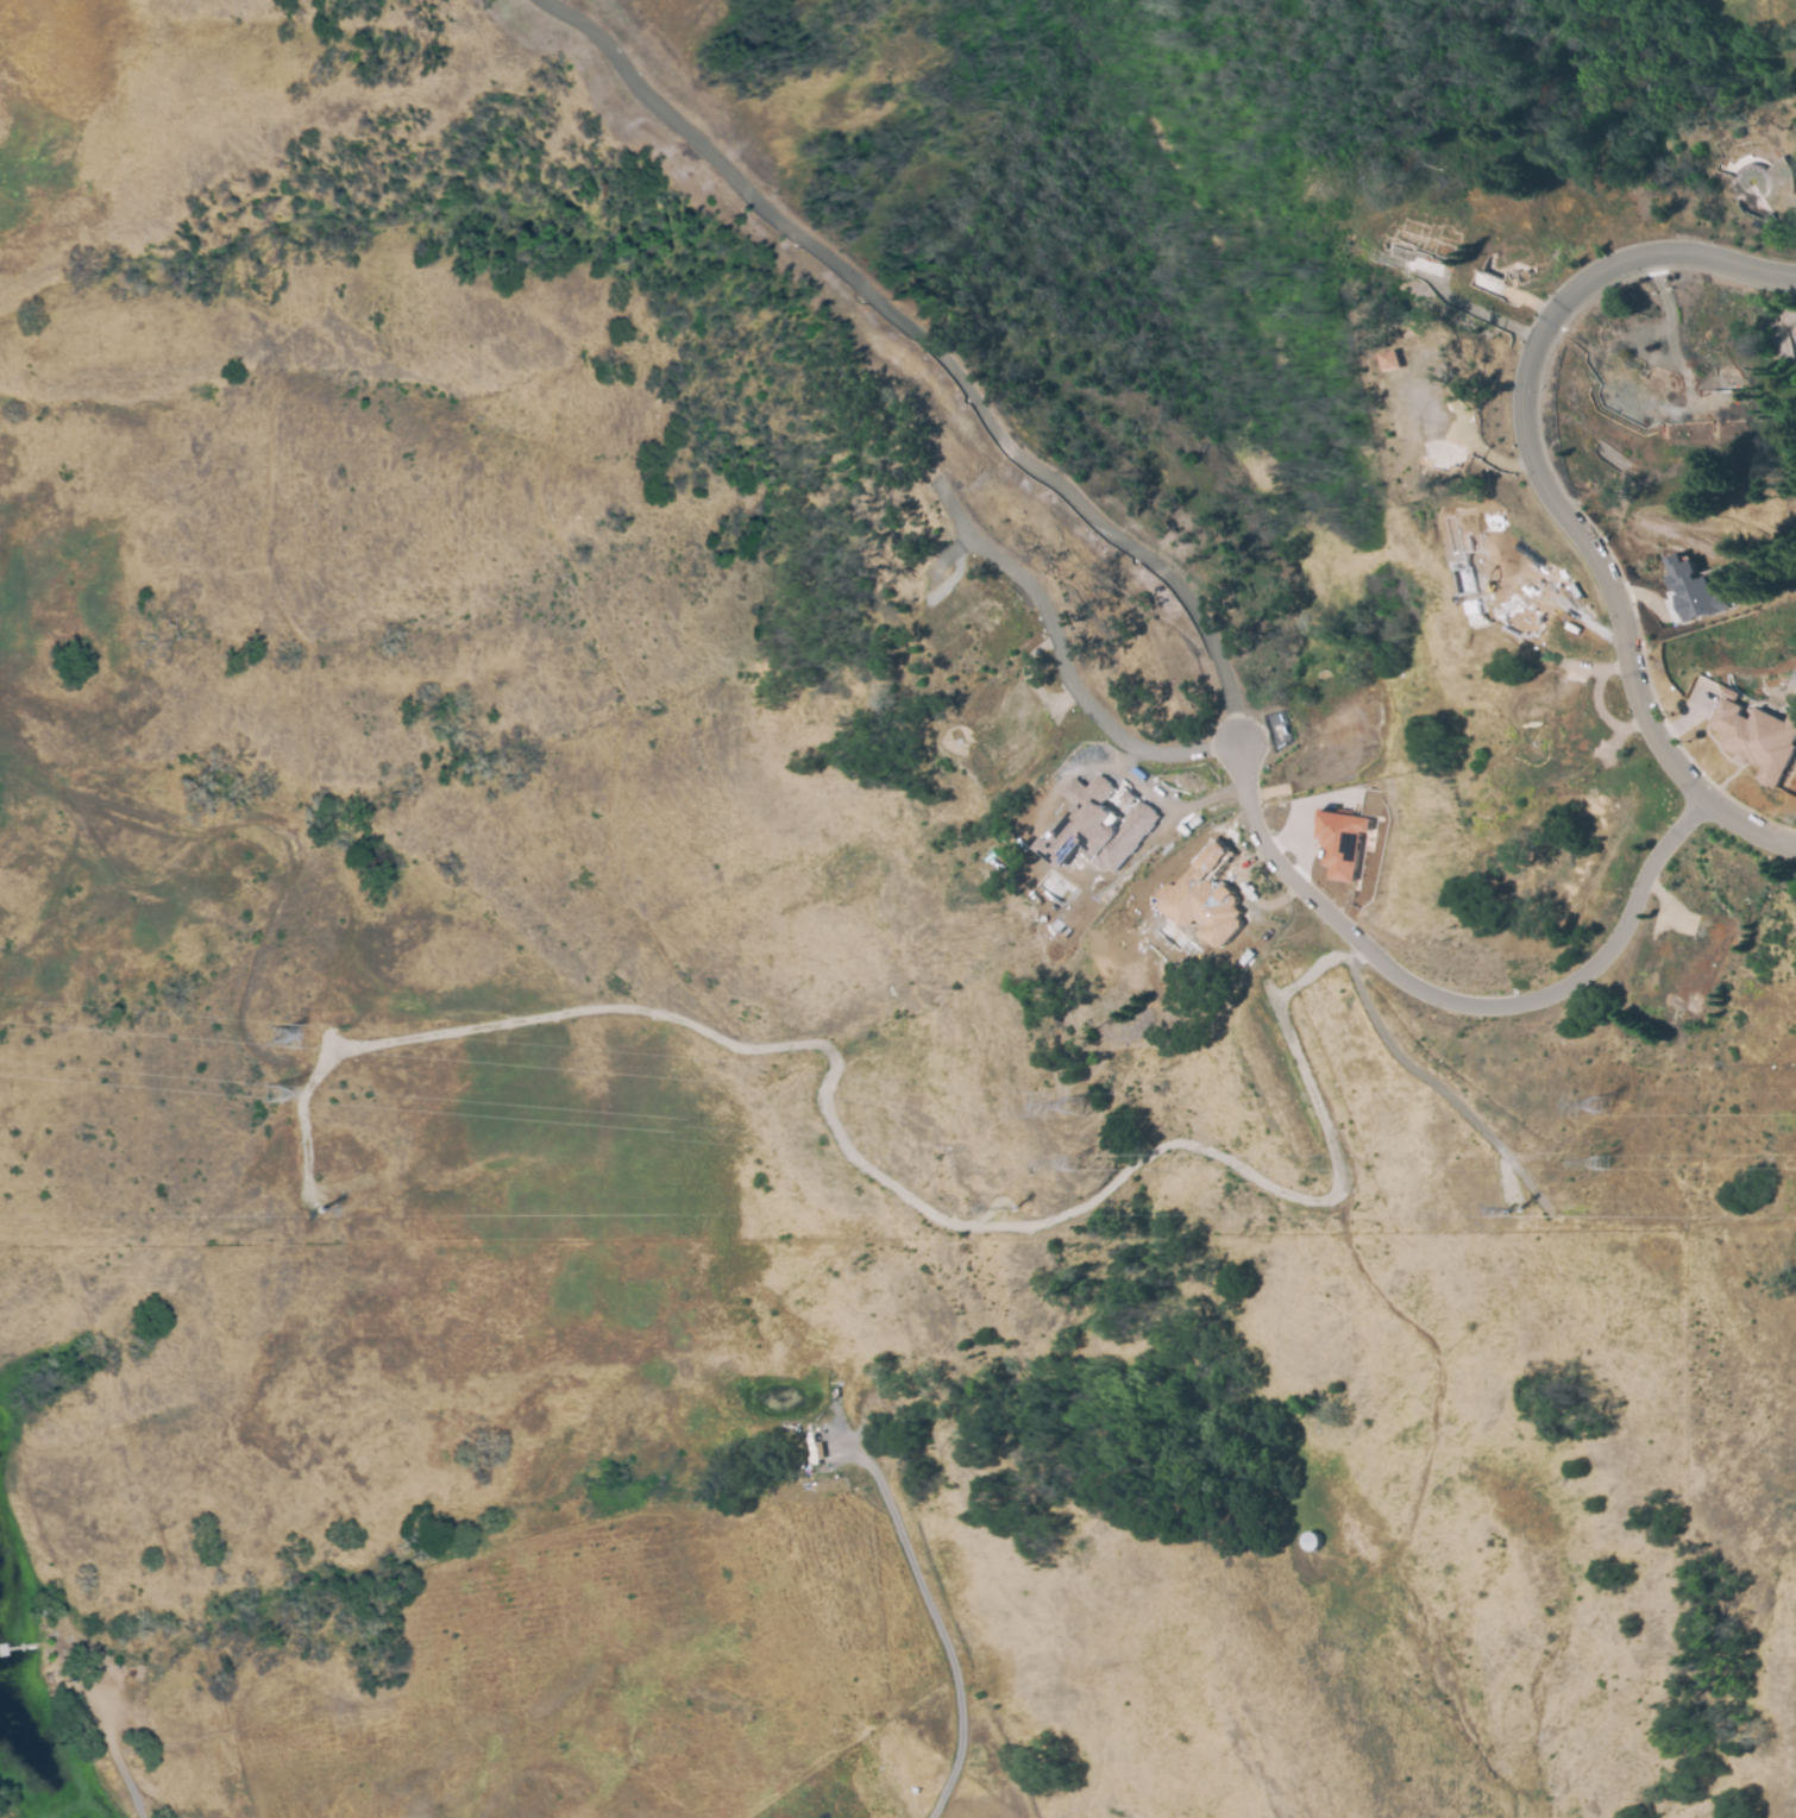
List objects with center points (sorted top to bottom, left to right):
building: (1390, 361)
road: (1538, 489)
building: (1693, 591)
road: (1073, 681)
building: (1756, 740)
building: (1095, 826)
building: (1343, 839)
building: (1202, 899)
road: (1450, 1005)
power tower: (271, 1034)
power tower: (269, 1095)
power tower: (1072, 1103)
power tower: (1600, 1103)
power tower: (1068, 1165)
power tower: (1600, 1165)
power tower: (1025, 1206)
power tower: (1502, 1210)
power tower: (333, 1212)
building: (1310, 1541)

